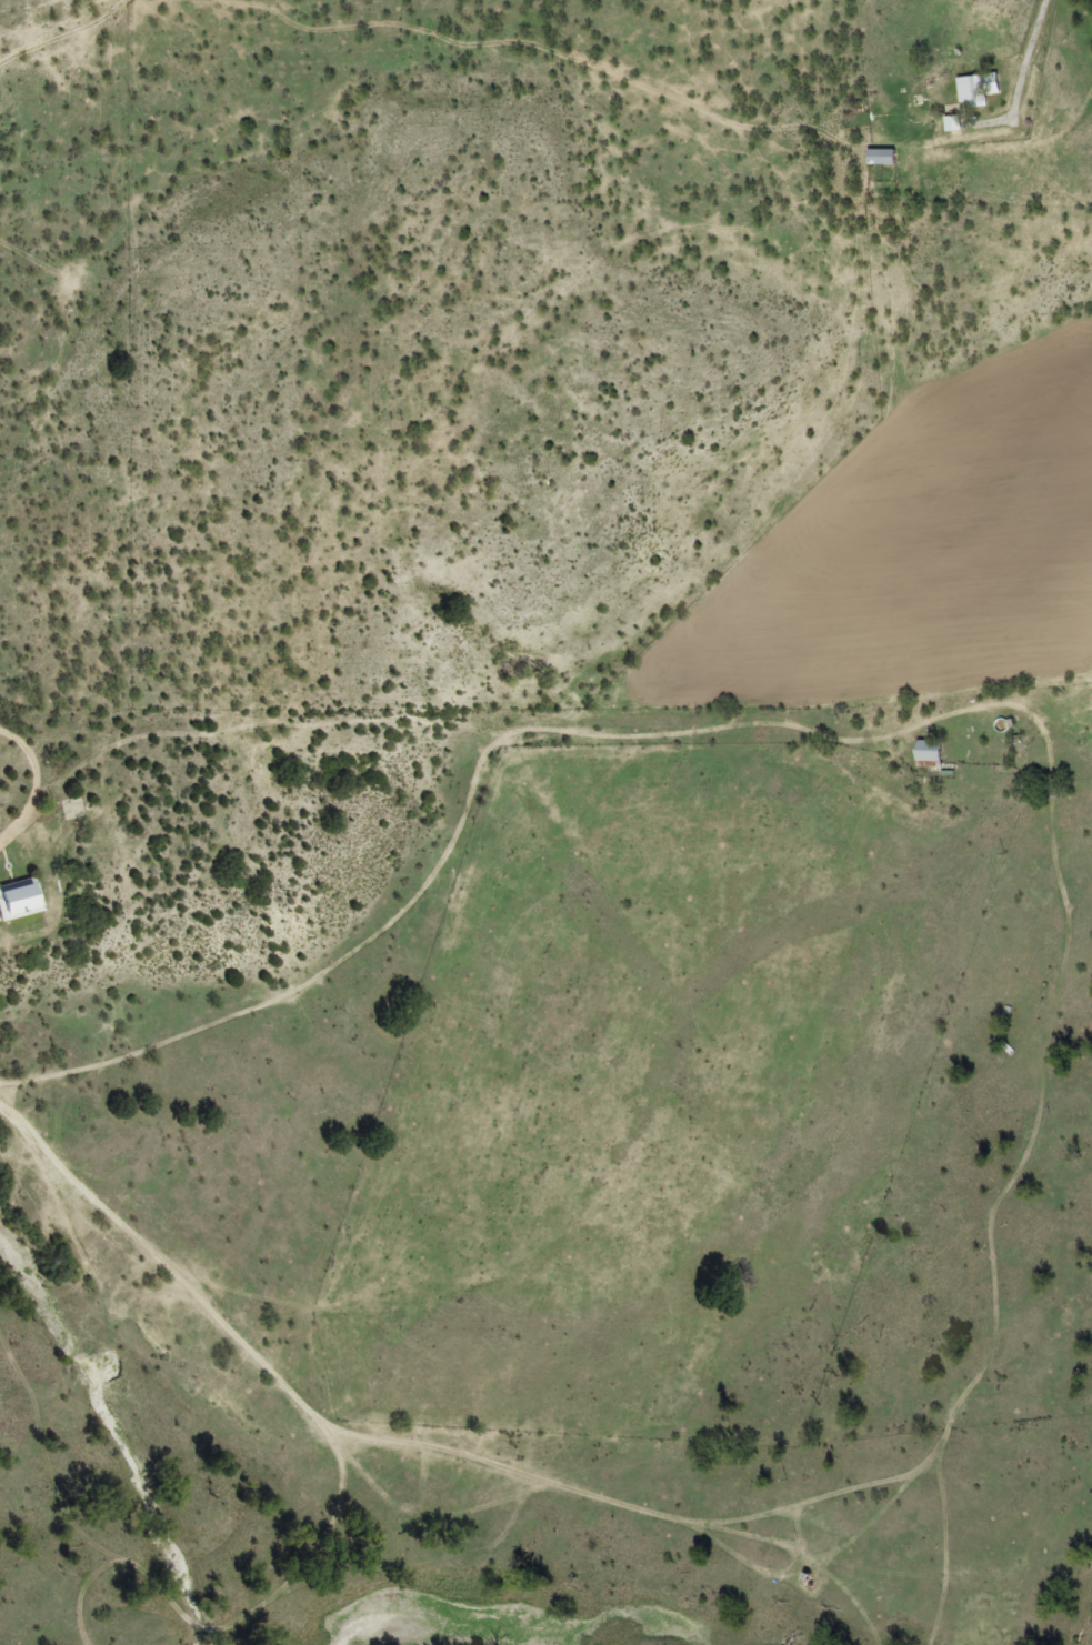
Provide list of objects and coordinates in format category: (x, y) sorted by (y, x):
building: (978, 87)
building: (881, 156)
building: (929, 751)
building: (18, 897)
road: (82, 1196)

